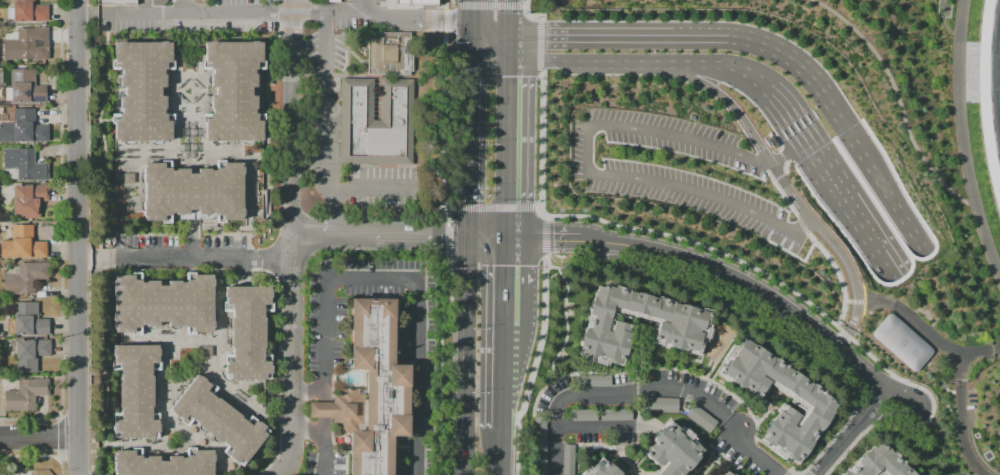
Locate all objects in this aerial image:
building: (115, 1)
building: (164, 2)
road: (445, 4)
road: (451, 4)
building: (417, 5)
road: (488, 5)
road: (191, 6)
road: (523, 6)
road: (291, 7)
road: (366, 7)
building: (27, 11)
road: (288, 14)
road: (467, 14)
road: (528, 14)
road: (507, 16)
road: (445, 20)
traffic signals: (467, 29)
road: (487, 31)
traffic signals: (507, 33)
road: (588, 35)
road: (697, 35)
building: (24, 43)
road: (467, 44)
road: (539, 46)
road: (507, 47)
building: (388, 54)
road: (784, 55)
traffic signals: (467, 60)
road: (487, 60)
traffic signals: (507, 61)
road: (532, 61)
road: (668, 63)
road: (951, 71)
building: (26, 87)
road: (878, 89)
building: (142, 90)
building: (233, 90)
road: (325, 108)
building: (982, 111)
road: (807, 112)
road: (800, 116)
road: (444, 117)
road: (795, 119)
building: (376, 123)
road: (789, 124)
building: (23, 128)
road: (847, 128)
road: (784, 129)
road: (778, 133)
road: (291, 137)
building: (771, 141)
road: (540, 144)
road: (465, 147)
road: (505, 149)
road: (812, 151)
road: (781, 156)
road: (781, 157)
road: (949, 162)
building: (24, 164)
parking lot: (677, 171)
road: (590, 172)
road: (827, 175)
road: (778, 176)
road: (881, 177)
road: (357, 188)
building: (193, 191)
road: (794, 194)
building: (28, 200)
road: (444, 206)
road: (536, 206)
road: (489, 207)
road: (545, 217)
road: (860, 227)
road: (313, 232)
road: (353, 232)
road: (447, 233)
road: (418, 234)
traffic signals: (465, 235)
road: (484, 236)
road: (78, 237)
road: (545, 237)
traffic signals: (503, 238)
road: (541, 238)
building: (22, 244)
road: (198, 259)
road: (885, 268)
road: (771, 277)
building: (25, 278)
road: (502, 281)
road: (408, 284)
road: (761, 291)
building: (163, 303)
road: (564, 317)
building: (28, 319)
road: (466, 326)
building: (681, 326)
road: (928, 329)
building: (247, 331)
building: (900, 341)
building: (30, 353)
traffic signals: (993, 363)
road: (533, 365)
road: (439, 366)
road: (649, 367)
road: (291, 369)
road: (501, 377)
traffic signals: (971, 377)
building: (592, 383)
building: (377, 387)
building: (135, 390)
building: (25, 394)
road: (306, 394)
road: (612, 397)
building: (816, 403)
building: (661, 406)
building: (341, 409)
road: (745, 414)
building: (582, 416)
building: (614, 416)
building: (218, 419)
road: (958, 419)
building: (700, 420)
road: (747, 422)
road: (305, 430)
road: (847, 432)
road: (320, 434)
road: (40, 436)
building: (539, 436)
road: (466, 446)
road: (748, 450)
road: (499, 452)
building: (670, 452)
road: (726, 459)
building: (568, 460)
building: (880, 463)
building: (163, 464)
road: (709, 464)
building: (539, 465)
building: (601, 468)
building: (725, 474)

